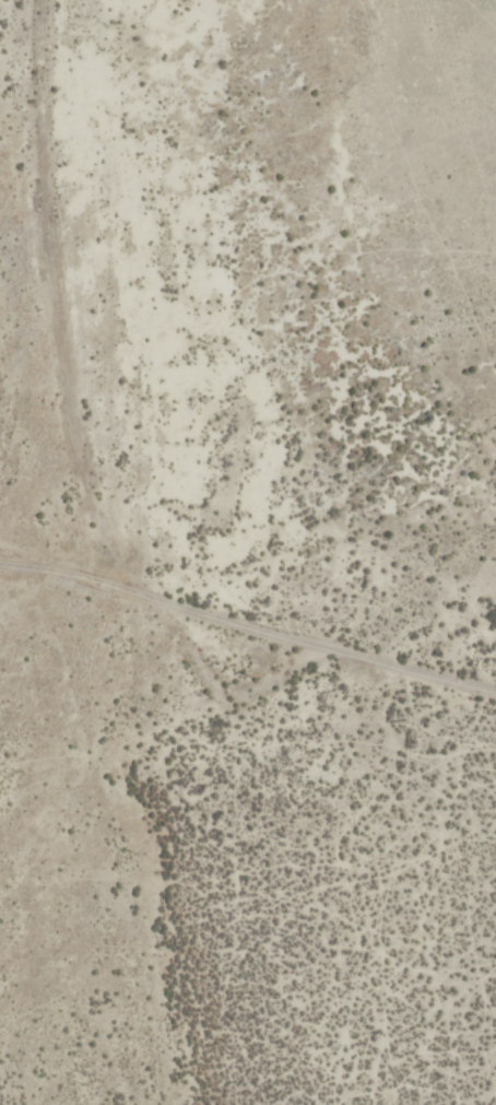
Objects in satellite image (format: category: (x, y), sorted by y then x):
road: (246, 627)

